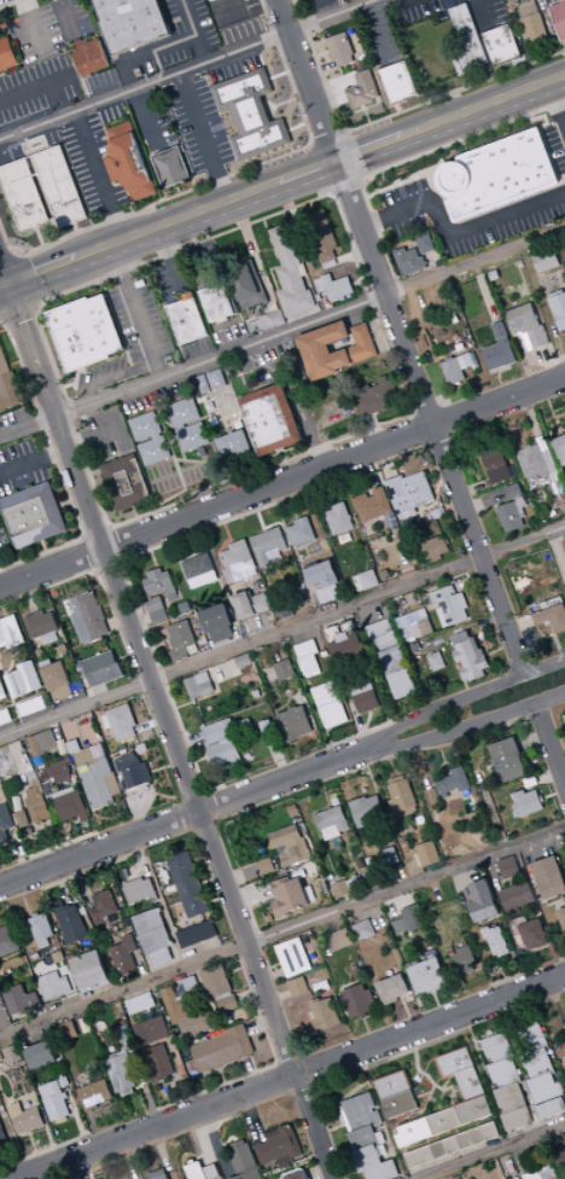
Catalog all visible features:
building: (208, 0)
building: (513, 2)
road: (10, 4)
building: (529, 5)
building: (229, 8)
road: (324, 8)
building: (529, 11)
road: (482, 13)
road: (332, 16)
building: (559, 17)
road: (65, 18)
building: (133, 23)
road: (35, 28)
building: (535, 28)
road: (193, 31)
road: (377, 31)
building: (470, 41)
building: (502, 45)
road: (564, 45)
building: (340, 48)
building: (7, 54)
road: (144, 54)
building: (89, 57)
road: (320, 69)
road: (307, 81)
building: (398, 82)
road: (464, 82)
road: (42, 85)
road: (332, 85)
road: (144, 86)
building: (362, 89)
road: (557, 104)
road: (367, 108)
road: (397, 108)
building: (251, 115)
road: (366, 115)
road: (389, 116)
road: (148, 118)
road: (542, 118)
road: (348, 132)
road: (203, 138)
road: (330, 139)
road: (311, 144)
road: (464, 149)
building: (28, 152)
road: (353, 157)
road: (409, 161)
building: (129, 162)
building: (171, 167)
road: (324, 168)
road: (153, 169)
building: (497, 176)
road: (98, 178)
road: (219, 179)
road: (285, 181)
road: (362, 181)
road: (408, 181)
road: (346, 186)
building: (62, 187)
road: (2, 188)
building: (23, 194)
road: (332, 194)
road: (130, 199)
road: (311, 208)
road: (6, 210)
road: (285, 217)
road: (91, 222)
building: (322, 236)
road: (453, 236)
road: (39, 237)
building: (425, 243)
road: (7, 254)
road: (256, 254)
road: (278, 257)
road: (171, 260)
road: (348, 260)
building: (546, 260)
building: (410, 261)
road: (507, 267)
building: (291, 274)
road: (2, 277)
road: (34, 277)
road: (363, 277)
building: (247, 284)
building: (337, 284)
road: (2, 286)
traffic signals: (6, 286)
road: (485, 291)
building: (220, 303)
building: (558, 308)
road: (138, 312)
road: (413, 312)
road: (18, 314)
road: (37, 319)
building: (188, 320)
road: (372, 320)
building: (268, 321)
road: (118, 324)
road: (45, 325)
road: (170, 325)
building: (528, 325)
building: (87, 332)
road: (281, 332)
road: (377, 333)
road: (557, 342)
building: (363, 343)
building: (450, 347)
building: (327, 350)
building: (500, 352)
road: (536, 355)
road: (542, 364)
road: (546, 365)
building: (453, 372)
road: (396, 376)
road: (112, 378)
building: (217, 379)
road: (74, 383)
building: (204, 384)
building: (8, 385)
building: (379, 399)
road: (400, 412)
road: (549, 412)
road: (301, 414)
road: (530, 417)
road: (430, 419)
building: (273, 420)
building: (181, 423)
road: (404, 426)
road: (374, 432)
road: (478, 434)
road: (94, 436)
building: (141, 439)
building: (233, 446)
building: (559, 449)
building: (491, 454)
road: (33, 461)
building: (531, 461)
building: (548, 461)
road: (386, 463)
road: (220, 464)
building: (497, 467)
road: (59, 470)
road: (371, 470)
road: (95, 472)
building: (513, 472)
building: (552, 477)
building: (127, 483)
road: (282, 483)
road: (184, 486)
road: (471, 489)
building: (513, 492)
building: (409, 493)
road: (483, 501)
road: (561, 503)
road: (270, 505)
building: (520, 505)
building: (373, 506)
building: (441, 512)
road: (135, 513)
building: (34, 516)
building: (509, 517)
building: (339, 519)
road: (109, 527)
road: (459, 528)
building: (302, 532)
road: (95, 533)
road: (454, 536)
road: (83, 538)
building: (564, 538)
building: (345, 539)
building: (447, 541)
building: (564, 541)
road: (223, 542)
building: (268, 545)
building: (313, 547)
building: (301, 548)
building: (435, 548)
road: (558, 548)
road: (151, 552)
road: (87, 554)
building: (274, 554)
building: (238, 562)
road: (404, 564)
building: (199, 571)
building: (249, 574)
building: (324, 575)
building: (384, 575)
building: (369, 580)
road: (471, 582)
building: (357, 583)
building: (161, 585)
building: (442, 593)
building: (328, 594)
building: (538, 598)
building: (252, 599)
building: (262, 604)
road: (110, 605)
building: (245, 606)
road: (373, 609)
building: (453, 609)
building: (157, 610)
building: (285, 610)
road: (4, 611)
road: (135, 611)
building: (551, 615)
building: (88, 617)
building: (441, 617)
building: (40, 623)
building: (217, 623)
road: (474, 623)
road: (518, 623)
building: (424, 627)
building: (378, 628)
road: (254, 631)
building: (11, 632)
road: (281, 632)
building: (414, 632)
building: (182, 640)
road: (500, 640)
building: (385, 641)
building: (344, 643)
road: (276, 647)
road: (558, 647)
building: (60, 649)
building: (305, 649)
road: (22, 650)
road: (493, 651)
building: (37, 652)
road: (153, 654)
building: (470, 657)
road: (122, 658)
building: (392, 658)
road: (23, 660)
building: (243, 660)
building: (435, 662)
road: (10, 663)
building: (78, 664)
building: (308, 664)
road: (221, 667)
building: (101, 668)
building: (284, 669)
building: (245, 670)
building: (313, 674)
road: (461, 678)
building: (23, 680)
building: (58, 680)
building: (402, 684)
building: (199, 685)
road: (86, 686)
building: (361, 687)
building: (1, 689)
road: (465, 690)
building: (326, 693)
road: (465, 697)
road: (11, 698)
road: (192, 701)
building: (366, 701)
road: (22, 702)
building: (31, 707)
building: (333, 714)
building: (5, 716)
building: (106, 722)
building: (122, 722)
building: (295, 724)
road: (148, 725)
road: (359, 725)
road: (470, 726)
road: (508, 726)
road: (169, 732)
road: (365, 732)
building: (269, 733)
building: (564, 734)
road: (532, 739)
road: (190, 742)
building: (222, 742)
building: (41, 743)
road: (292, 744)
road: (549, 745)
road: (13, 747)
building: (506, 750)
building: (89, 755)
road: (442, 755)
building: (129, 760)
road: (196, 761)
road: (479, 762)
road: (280, 763)
road: (209, 766)
building: (512, 769)
building: (58, 772)
building: (449, 774)
road: (548, 776)
building: (134, 777)
road: (437, 777)
road: (371, 778)
building: (397, 779)
building: (455, 782)
building: (531, 782)
building: (97, 783)
road: (322, 788)
building: (402, 795)
building: (433, 796)
building: (529, 802)
building: (69, 805)
building: (36, 806)
building: (295, 811)
building: (368, 811)
building: (516, 811)
road: (135, 814)
road: (493, 814)
road: (185, 817)
building: (21, 819)
building: (332, 819)
road: (120, 820)
building: (5, 824)
building: (331, 832)
building: (353, 835)
building: (474, 837)
road: (66, 840)
building: (338, 842)
building: (290, 844)
building: (270, 846)
road: (45, 850)
road: (18, 854)
building: (426, 854)
road: (127, 855)
road: (138, 856)
road: (418, 856)
road: (203, 858)
building: (389, 858)
building: (559, 860)
road: (372, 863)
building: (267, 866)
building: (181, 867)
building: (508, 867)
road: (493, 869)
building: (532, 870)
road: (243, 875)
building: (551, 877)
road: (81, 878)
road: (211, 879)
road: (59, 881)
road: (66, 883)
road: (461, 884)
building: (188, 888)
building: (140, 890)
building: (342, 890)
road: (252, 894)
building: (290, 896)
road: (217, 899)
building: (516, 899)
road: (24, 900)
building: (484, 902)
building: (103, 906)
building: (196, 906)
road: (301, 913)
road: (247, 914)
building: (563, 916)
building: (414, 918)
building: (69, 922)
building: (148, 922)
building: (41, 930)
road: (281, 930)
building: (363, 930)
building: (519, 931)
building: (197, 934)
building: (535, 935)
building: (339, 940)
building: (7, 941)
building: (29, 941)
building: (155, 941)
building: (496, 941)
road: (540, 948)
building: (123, 957)
building: (293, 958)
building: (501, 958)
building: (465, 959)
road: (561, 959)
road: (275, 966)
road: (140, 968)
road: (268, 968)
road: (537, 968)
building: (353, 969)
building: (89, 970)
road: (197, 975)
road: (273, 976)
building: (359, 977)
building: (429, 977)
road: (459, 980)
building: (216, 981)
road: (507, 981)
building: (53, 986)
building: (191, 987)
building: (298, 987)
building: (394, 989)
road: (250, 994)
road: (406, 995)
road: (279, 997)
building: (21, 1000)
building: (359, 1001)
building: (140, 1003)
building: (173, 1004)
building: (227, 1004)
road: (557, 1004)
road: (438, 1006)
road: (307, 1009)
road: (408, 1014)
building: (181, 1015)
building: (324, 1015)
road: (145, 1016)
road: (466, 1022)
road: (260, 1023)
building: (197, 1024)
road: (295, 1026)
road: (365, 1026)
building: (150, 1030)
building: (68, 1032)
road: (0, 1033)
building: (124, 1033)
building: (532, 1036)
road: (478, 1042)
building: (222, 1049)
building: (497, 1049)
road: (412, 1050)
building: (12, 1053)
building: (41, 1056)
building: (2, 1061)
building: (158, 1062)
building: (455, 1063)
building: (536, 1064)
road: (270, 1067)
building: (17, 1070)
road: (250, 1073)
building: (505, 1073)
building: (121, 1074)
road: (221, 1075)
road: (290, 1075)
road: (414, 1076)
building: (63, 1081)
building: (392, 1084)
building: (471, 1084)
road: (443, 1087)
building: (546, 1088)
road: (227, 1091)
road: (493, 1092)
building: (94, 1096)
road: (147, 1098)
building: (511, 1098)
building: (54, 1100)
road: (497, 1103)
building: (400, 1104)
building: (13, 1109)
building: (552, 1109)
building: (473, 1110)
building: (362, 1113)
road: (414, 1113)
road: (251, 1119)
building: (518, 1120)
building: (30, 1121)
road: (77, 1122)
building: (445, 1122)
road: (94, 1129)
road: (330, 1131)
building: (414, 1133)
building: (2, 1134)
road: (206, 1136)
building: (564, 1137)
building: (380, 1138)
building: (365, 1139)
building: (452, 1145)
building: (279, 1146)
road: (34, 1150)
building: (381, 1151)
road: (495, 1152)
building: (559, 1155)
road: (128, 1158)
building: (241, 1161)
building: (374, 1165)
road: (71, 1169)
building: (196, 1171)
road: (321, 1171)
building: (158, 1174)
road: (34, 1175)
building: (299, 1175)
building: (534, 1175)
building: (458, 1178)

